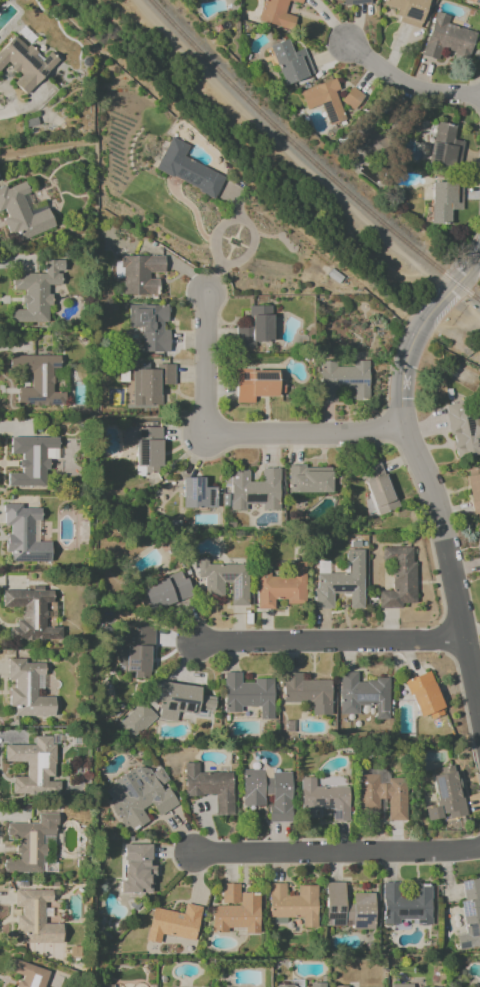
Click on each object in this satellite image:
building: (473, 1)
building: (354, 2)
building: (407, 11)
building: (276, 13)
building: (447, 38)
building: (290, 62)
building: (24, 63)
road: (474, 80)
road: (406, 88)
road: (478, 95)
road: (0, 99)
building: (331, 99)
road: (479, 115)
building: (358, 129)
building: (444, 145)
railway: (312, 156)
building: (186, 169)
building: (444, 201)
building: (21, 213)
road: (232, 221)
road: (470, 242)
road: (445, 273)
building: (138, 274)
building: (36, 292)
building: (150, 326)
building: (255, 327)
road: (395, 344)
building: (36, 380)
building: (342, 380)
building: (150, 384)
building: (256, 385)
road: (384, 428)
building: (462, 430)
road: (234, 436)
building: (143, 446)
road: (297, 447)
building: (32, 460)
road: (424, 473)
building: (310, 479)
building: (378, 488)
building: (255, 489)
building: (474, 492)
building: (197, 494)
building: (23, 534)
building: (398, 577)
building: (224, 580)
building: (342, 582)
building: (281, 587)
building: (166, 591)
building: (30, 614)
road: (329, 642)
building: (136, 652)
building: (27, 689)
building: (307, 692)
building: (247, 695)
building: (362, 695)
building: (424, 695)
building: (34, 766)
building: (209, 787)
building: (268, 792)
building: (139, 795)
building: (445, 795)
building: (381, 796)
building: (322, 800)
building: (29, 843)
road: (338, 854)
building: (136, 869)
building: (293, 903)
building: (405, 905)
building: (348, 908)
building: (235, 910)
building: (470, 914)
building: (35, 917)
building: (173, 923)
building: (51, 950)
building: (28, 974)
building: (317, 984)
building: (105, 985)
building: (284, 985)
building: (401, 985)

